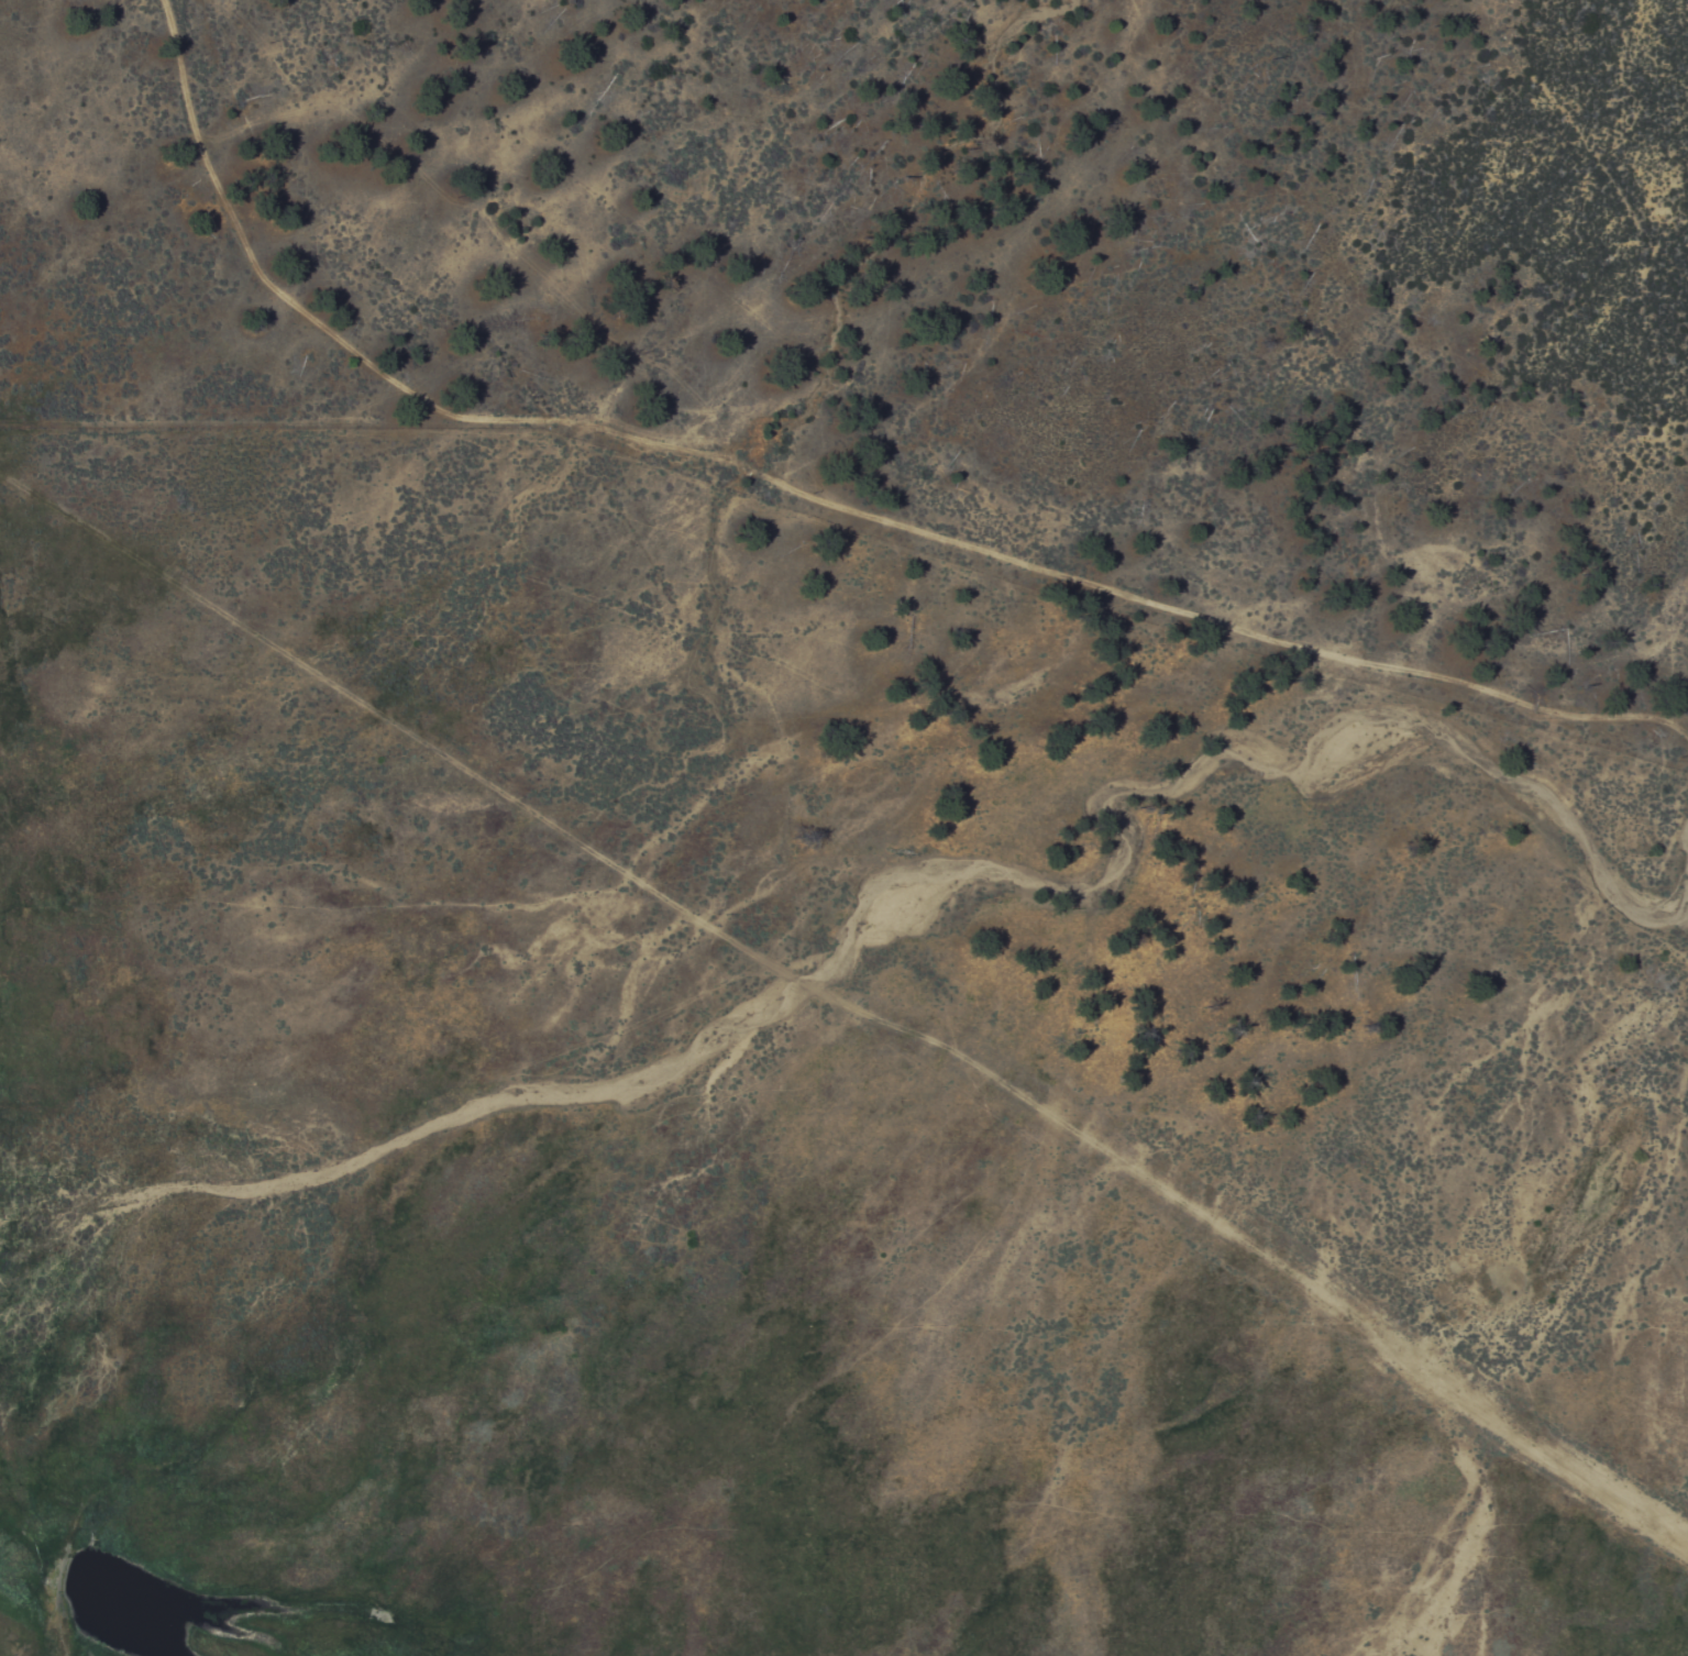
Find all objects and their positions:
road: (814, 497)

